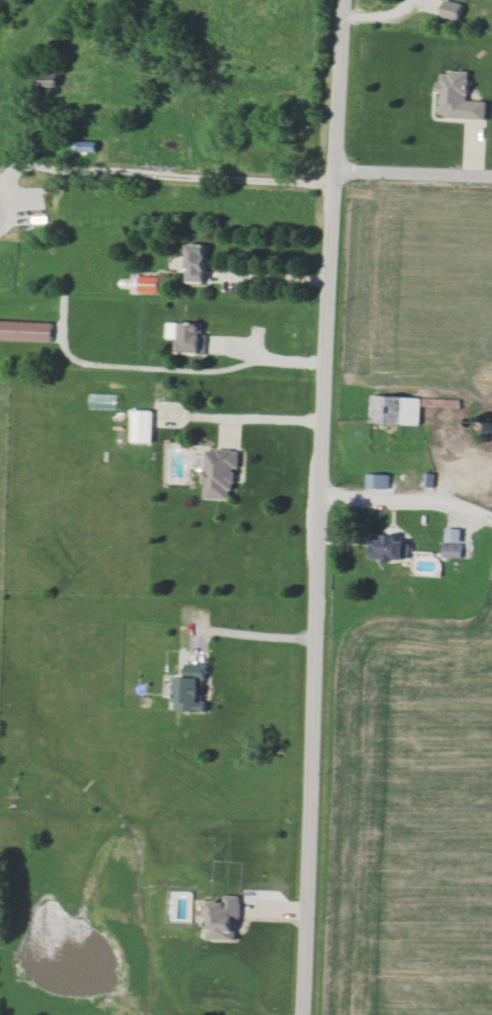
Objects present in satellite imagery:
building: (453, 9)
road: (380, 14)
crop: (138, 97)
building: (460, 97)
building: (89, 146)
road: (150, 165)
road: (414, 171)
building: (199, 263)
crop: (6, 266)
road: (274, 279)
building: (151, 284)
crop: (422, 289)
building: (27, 331)
building: (190, 337)
road: (168, 359)
building: (396, 410)
road: (244, 418)
building: (144, 426)
building: (222, 474)
building: (379, 481)
crop: (487, 490)
road: (407, 497)
road: (319, 507)
building: (453, 535)
building: (390, 548)
building: (453, 550)
road: (258, 634)
building: (193, 691)
crop: (412, 816)
building: (226, 918)

